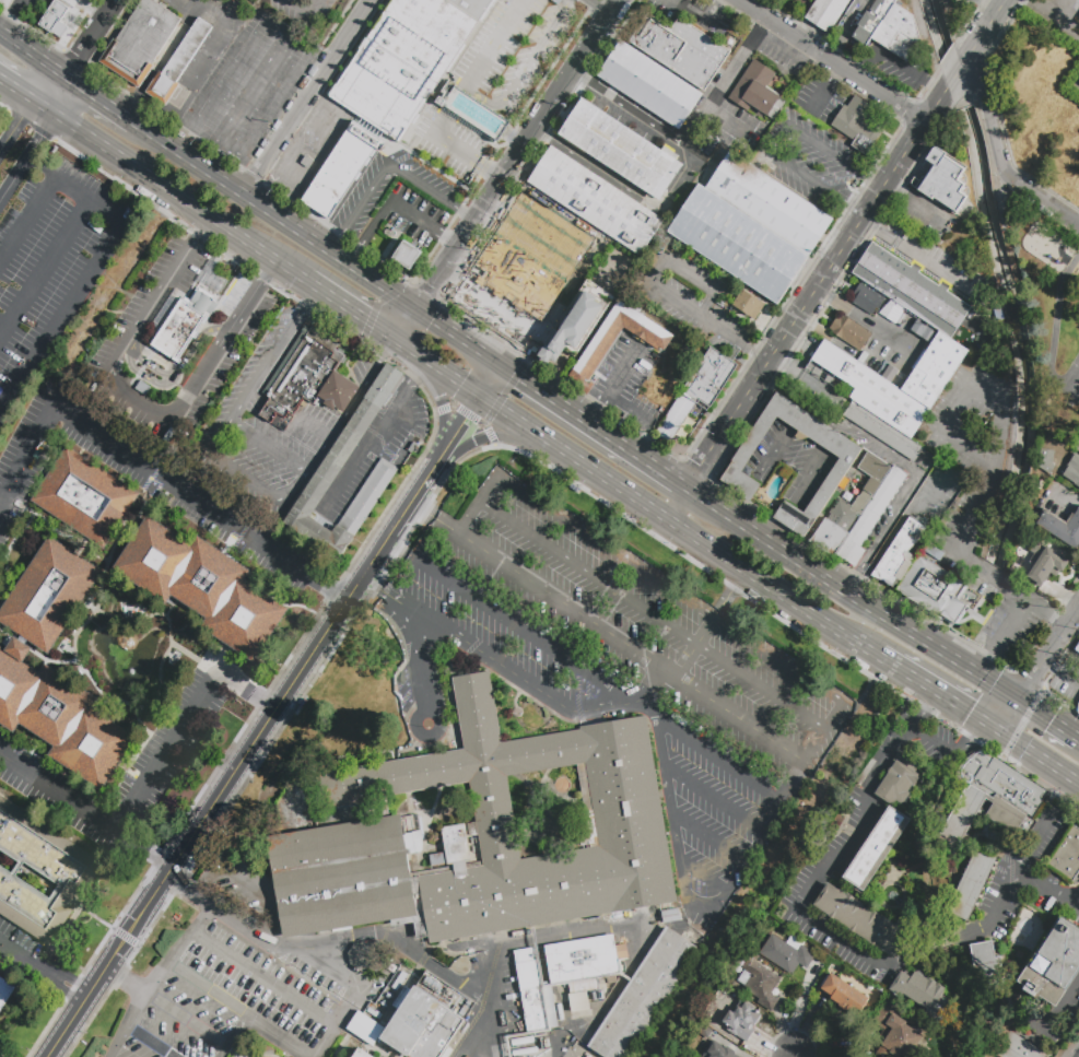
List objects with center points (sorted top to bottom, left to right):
building: (5, 3)
road: (25, 3)
road: (996, 3)
building: (472, 5)
road: (597, 7)
building: (853, 7)
parking lot: (307, 11)
building: (826, 13)
road: (305, 14)
road: (14, 20)
building: (57, 21)
building: (889, 28)
building: (423, 32)
road: (985, 35)
building: (140, 43)
road: (586, 49)
building: (682, 50)
road: (32, 52)
road: (79, 54)
road: (802, 60)
road: (834, 61)
building: (177, 62)
road: (201, 62)
road: (526, 70)
road: (910, 72)
road: (955, 81)
road: (256, 83)
building: (649, 85)
building: (383, 87)
building: (754, 90)
road: (21, 93)
road: (138, 93)
road: (822, 94)
road: (305, 97)
road: (99, 99)
road: (460, 99)
building: (851, 116)
building: (695, 120)
road: (16, 125)
road: (690, 136)
road: (774, 138)
building: (871, 138)
building: (620, 151)
road: (28, 156)
road: (834, 156)
road: (1001, 156)
road: (318, 160)
building: (306, 162)
road: (36, 165)
road: (386, 167)
building: (340, 171)
road: (816, 184)
building: (943, 184)
road: (628, 188)
road: (176, 193)
road: (84, 196)
building: (595, 200)
building: (767, 203)
road: (484, 204)
building: (1010, 208)
road: (27, 219)
road: (275, 219)
road: (543, 222)
road: (424, 224)
road: (200, 231)
road: (370, 235)
building: (736, 244)
road: (906, 248)
road: (500, 252)
building: (406, 255)
parking lot: (51, 265)
road: (45, 268)
road: (267, 270)
road: (693, 272)
road: (610, 274)
traffic signals: (432, 287)
road: (819, 290)
building: (911, 293)
parking lot: (691, 296)
road: (676, 300)
building: (867, 300)
building: (748, 305)
road: (377, 306)
road: (491, 306)
road: (353, 312)
road: (61, 313)
road: (238, 314)
traffic signals: (364, 319)
road: (864, 320)
traffic signals: (430, 321)
road: (588, 321)
building: (572, 326)
road: (2, 327)
road: (407, 327)
building: (183, 329)
road: (725, 331)
building: (848, 332)
road: (457, 338)
road: (826, 338)
road: (1049, 340)
building: (601, 343)
road: (513, 348)
road: (759, 354)
park: (1064, 355)
road: (438, 368)
road: (149, 369)
road: (624, 369)
building: (934, 369)
road: (554, 373)
building: (298, 375)
traffic signals: (520, 378)
road: (489, 380)
road: (102, 384)
traffic signals: (460, 384)
park: (1072, 384)
road: (173, 386)
road: (431, 388)
building: (699, 388)
building: (872, 391)
building: (333, 395)
road: (500, 401)
road: (628, 407)
road: (447, 408)
road: (598, 408)
road: (468, 415)
road: (465, 420)
traffic signals: (464, 422)
road: (813, 424)
road: (593, 426)
parking lot: (266, 427)
road: (316, 427)
road: (486, 432)
building: (881, 432)
road: (637, 435)
road: (496, 436)
road: (370, 443)
road: (992, 446)
road: (270, 448)
road: (574, 457)
road: (900, 459)
building: (1047, 461)
building: (737, 462)
building: (333, 465)
road: (149, 469)
building: (1074, 469)
road: (247, 484)
road: (421, 484)
parking lot: (937, 489)
building: (1058, 489)
building: (86, 500)
building: (164, 503)
road: (478, 503)
road: (678, 503)
parking lot: (980, 503)
building: (849, 508)
building: (870, 517)
road: (136, 522)
road: (899, 526)
building: (1062, 530)
road: (383, 544)
road: (706, 544)
road: (400, 551)
building: (898, 551)
building: (1045, 563)
road: (573, 566)
building: (1018, 574)
building: (204, 586)
road: (671, 588)
building: (931, 589)
road: (382, 590)
road: (854, 594)
building: (49, 596)
road: (171, 609)
road: (811, 612)
road: (101, 613)
road: (1015, 614)
road: (112, 615)
road: (146, 616)
road: (654, 616)
road: (1077, 616)
road: (89, 620)
road: (524, 632)
road: (608, 633)
road: (171, 634)
building: (127, 641)
road: (696, 644)
building: (1077, 649)
road: (36, 653)
road: (192, 661)
road: (421, 661)
road: (1039, 670)
fountain: (131, 672)
road: (513, 673)
road: (1060, 673)
road: (162, 684)
road: (939, 693)
road: (643, 707)
building: (1078, 708)
road: (924, 709)
building: (59, 716)
road: (1048, 718)
road: (187, 725)
road: (826, 733)
road: (949, 755)
road: (1039, 756)
road: (719, 757)
building: (898, 784)
road: (715, 798)
road: (84, 809)
road: (206, 809)
building: (483, 836)
road: (708, 837)
building: (953, 838)
road: (1033, 843)
road: (971, 845)
building: (877, 848)
building: (1068, 859)
road: (924, 866)
building: (66, 869)
road: (704, 876)
road: (1011, 880)
road: (683, 881)
road: (813, 883)
road: (185, 888)
road: (245, 891)
road: (867, 895)
road: (1074, 897)
building: (672, 918)
building: (859, 919)
road: (243, 923)
building: (704, 931)
building: (691, 936)
road: (509, 943)
road: (951, 943)
building: (787, 953)
building: (364, 958)
road: (439, 966)
building: (1055, 966)
road: (318, 967)
road: (40, 968)
building: (985, 968)
road: (263, 977)
building: (563, 977)
road: (155, 978)
road: (122, 982)
building: (612, 983)
building: (761, 984)
building: (923, 991)
building: (5, 993)
building: (844, 995)
building: (643, 997)
road: (241, 1007)
road: (185, 1021)
building: (742, 1021)
road: (338, 1023)
building: (421, 1024)
building: (703, 1031)
building: (898, 1033)
road: (233, 1034)
building: (523, 1042)
road: (146, 1043)
building: (546, 1044)
building: (1012, 1045)
building: (289, 1048)
building: (718, 1050)
building: (526, 1052)
road: (790, 1053)
building: (363, 1055)
building: (682, 1055)
building: (588, 1056)

